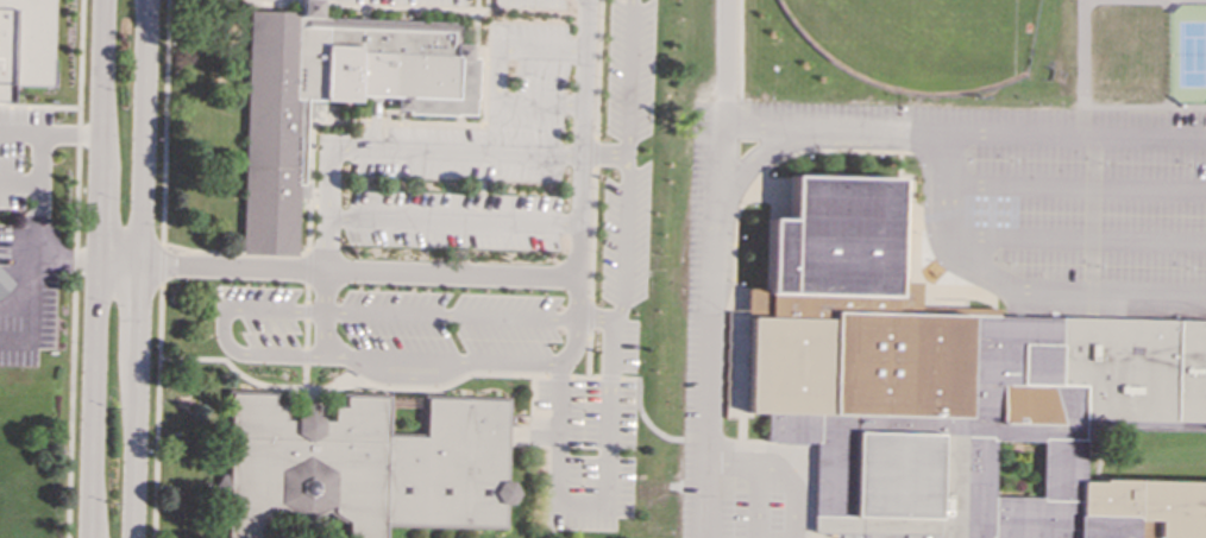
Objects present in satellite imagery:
road: (272, 1)
park: (921, 40)
building: (23, 44)
road: (513, 45)
road: (740, 50)
road: (1083, 53)
park: (1192, 53)
road: (724, 62)
road: (597, 69)
building: (332, 96)
road: (539, 99)
road: (1144, 105)
road: (39, 106)
road: (164, 124)
road: (1076, 133)
road: (50, 135)
parking lot: (478, 146)
road: (423, 148)
road: (595, 152)
road: (603, 153)
road: (754, 156)
parking lot: (26, 159)
road: (626, 160)
road: (42, 181)
road: (1076, 188)
road: (1092, 211)
road: (717, 217)
road: (452, 220)
road: (592, 234)
road: (326, 239)
road: (1078, 239)
parking lot: (942, 243)
road: (34, 252)
road: (301, 254)
road: (119, 259)
road: (161, 265)
road: (307, 267)
road: (74, 268)
road: (98, 268)
road: (139, 268)
road: (496, 274)
building: (4, 284)
road: (1015, 285)
parking lot: (26, 292)
road: (324, 292)
road: (307, 293)
road: (576, 298)
road: (32, 299)
road: (306, 310)
parking lot: (607, 311)
road: (450, 316)
road: (590, 316)
parking lot: (395, 321)
road: (221, 329)
road: (306, 334)
road: (324, 335)
road: (15, 341)
road: (589, 355)
road: (304, 356)
road: (466, 362)
road: (240, 374)
road: (560, 375)
road: (585, 376)
road: (408, 378)
road: (610, 378)
road: (428, 387)
building: (953, 388)
road: (156, 410)
road: (640, 411)
road: (696, 438)
building: (366, 467)
road: (779, 470)
road: (610, 492)
road: (756, 502)
road: (553, 521)

